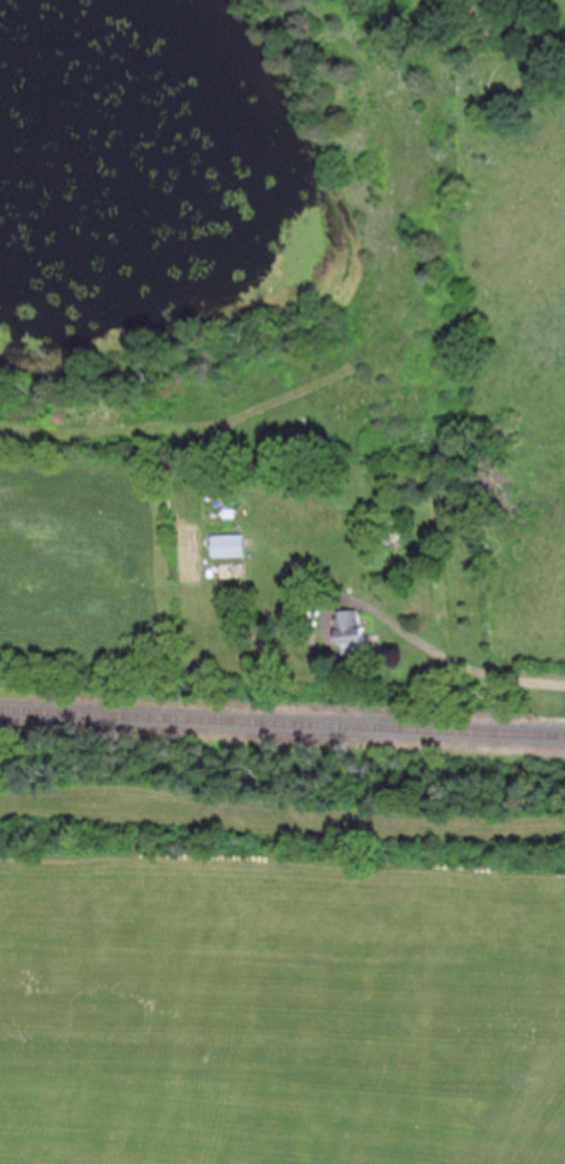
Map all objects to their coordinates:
building: (231, 544)
building: (355, 631)
road: (434, 654)
railway: (282, 725)

